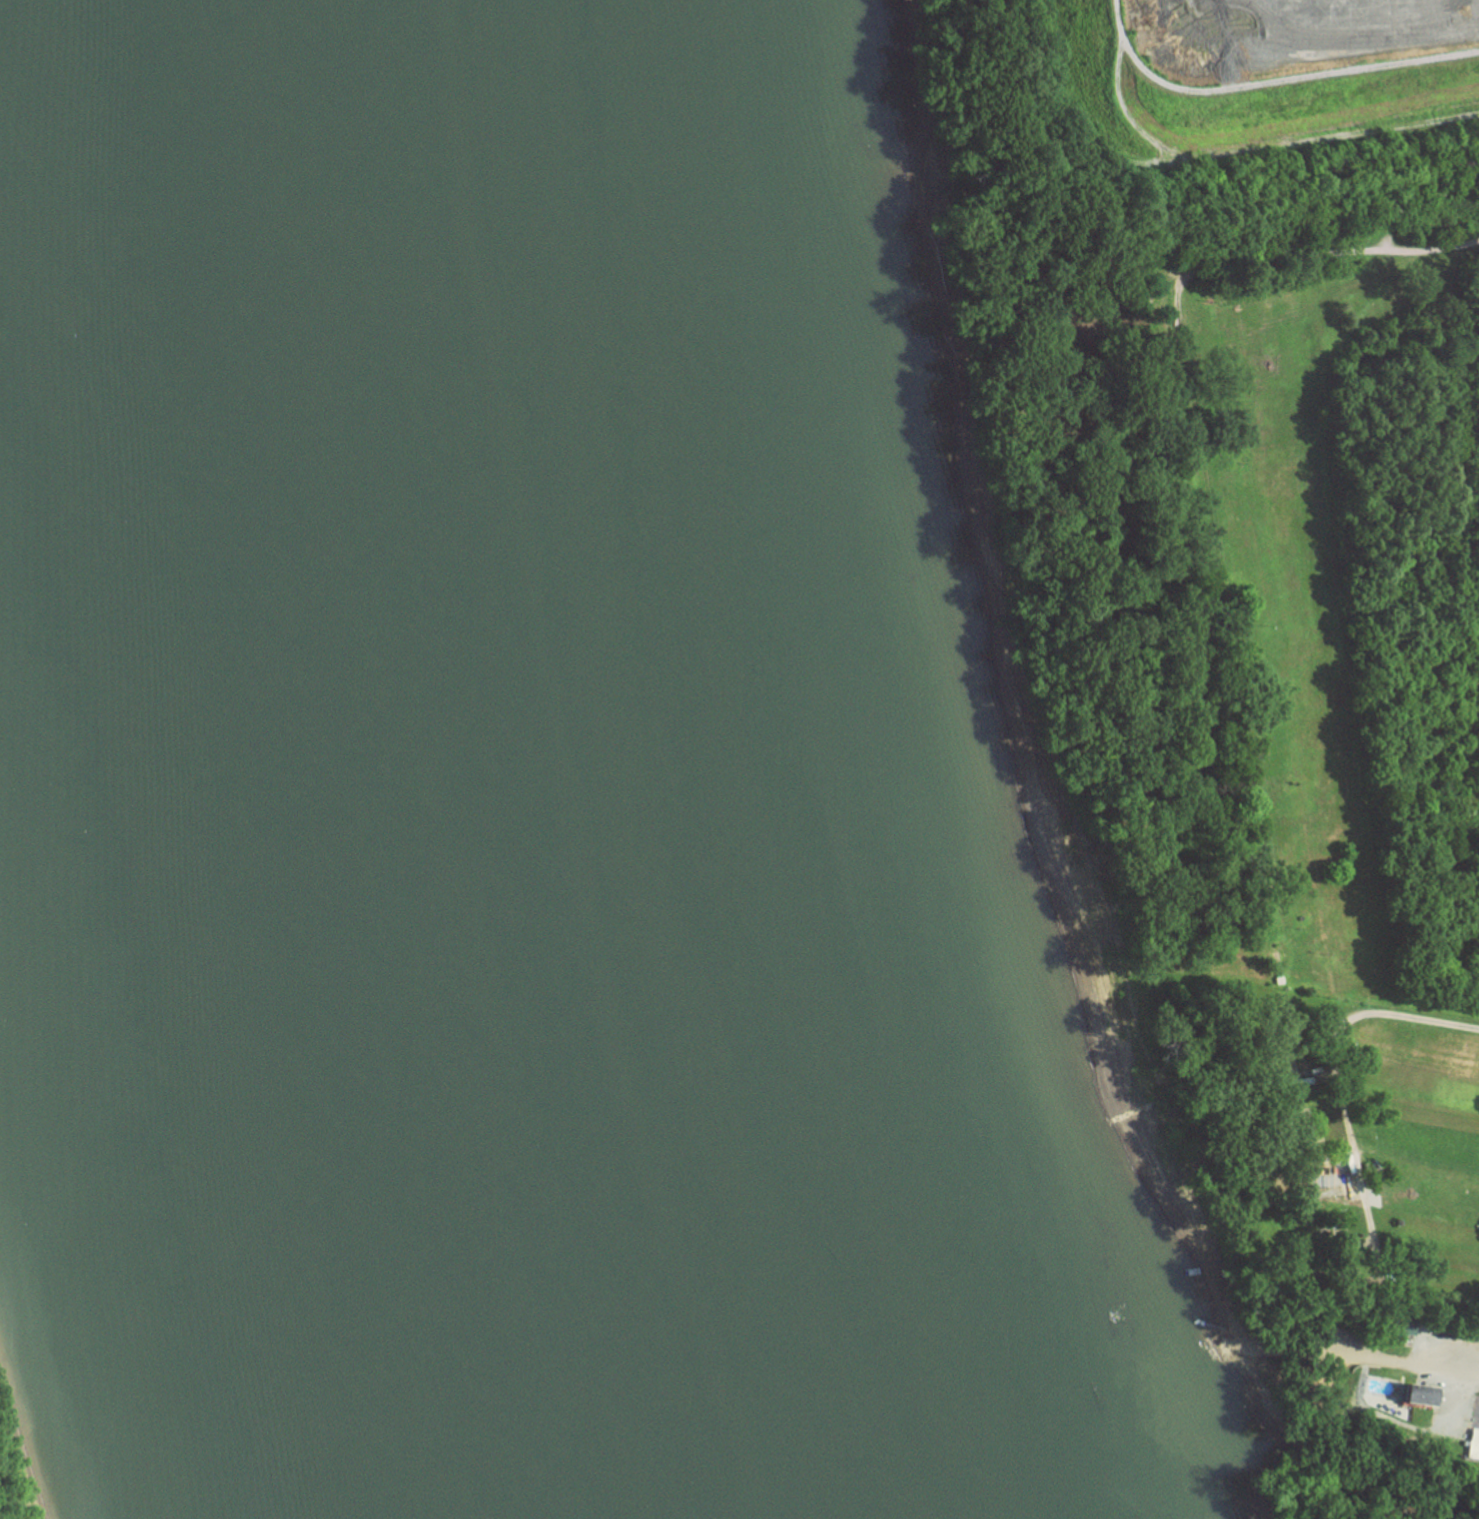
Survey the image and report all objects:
road: (1118, 17)
road: (1289, 76)
road: (1256, 148)
road: (1309, 257)
river: (398, 764)
road: (1331, 1059)
road: (1415, 1361)
building: (1409, 1396)
building: (1473, 1444)

